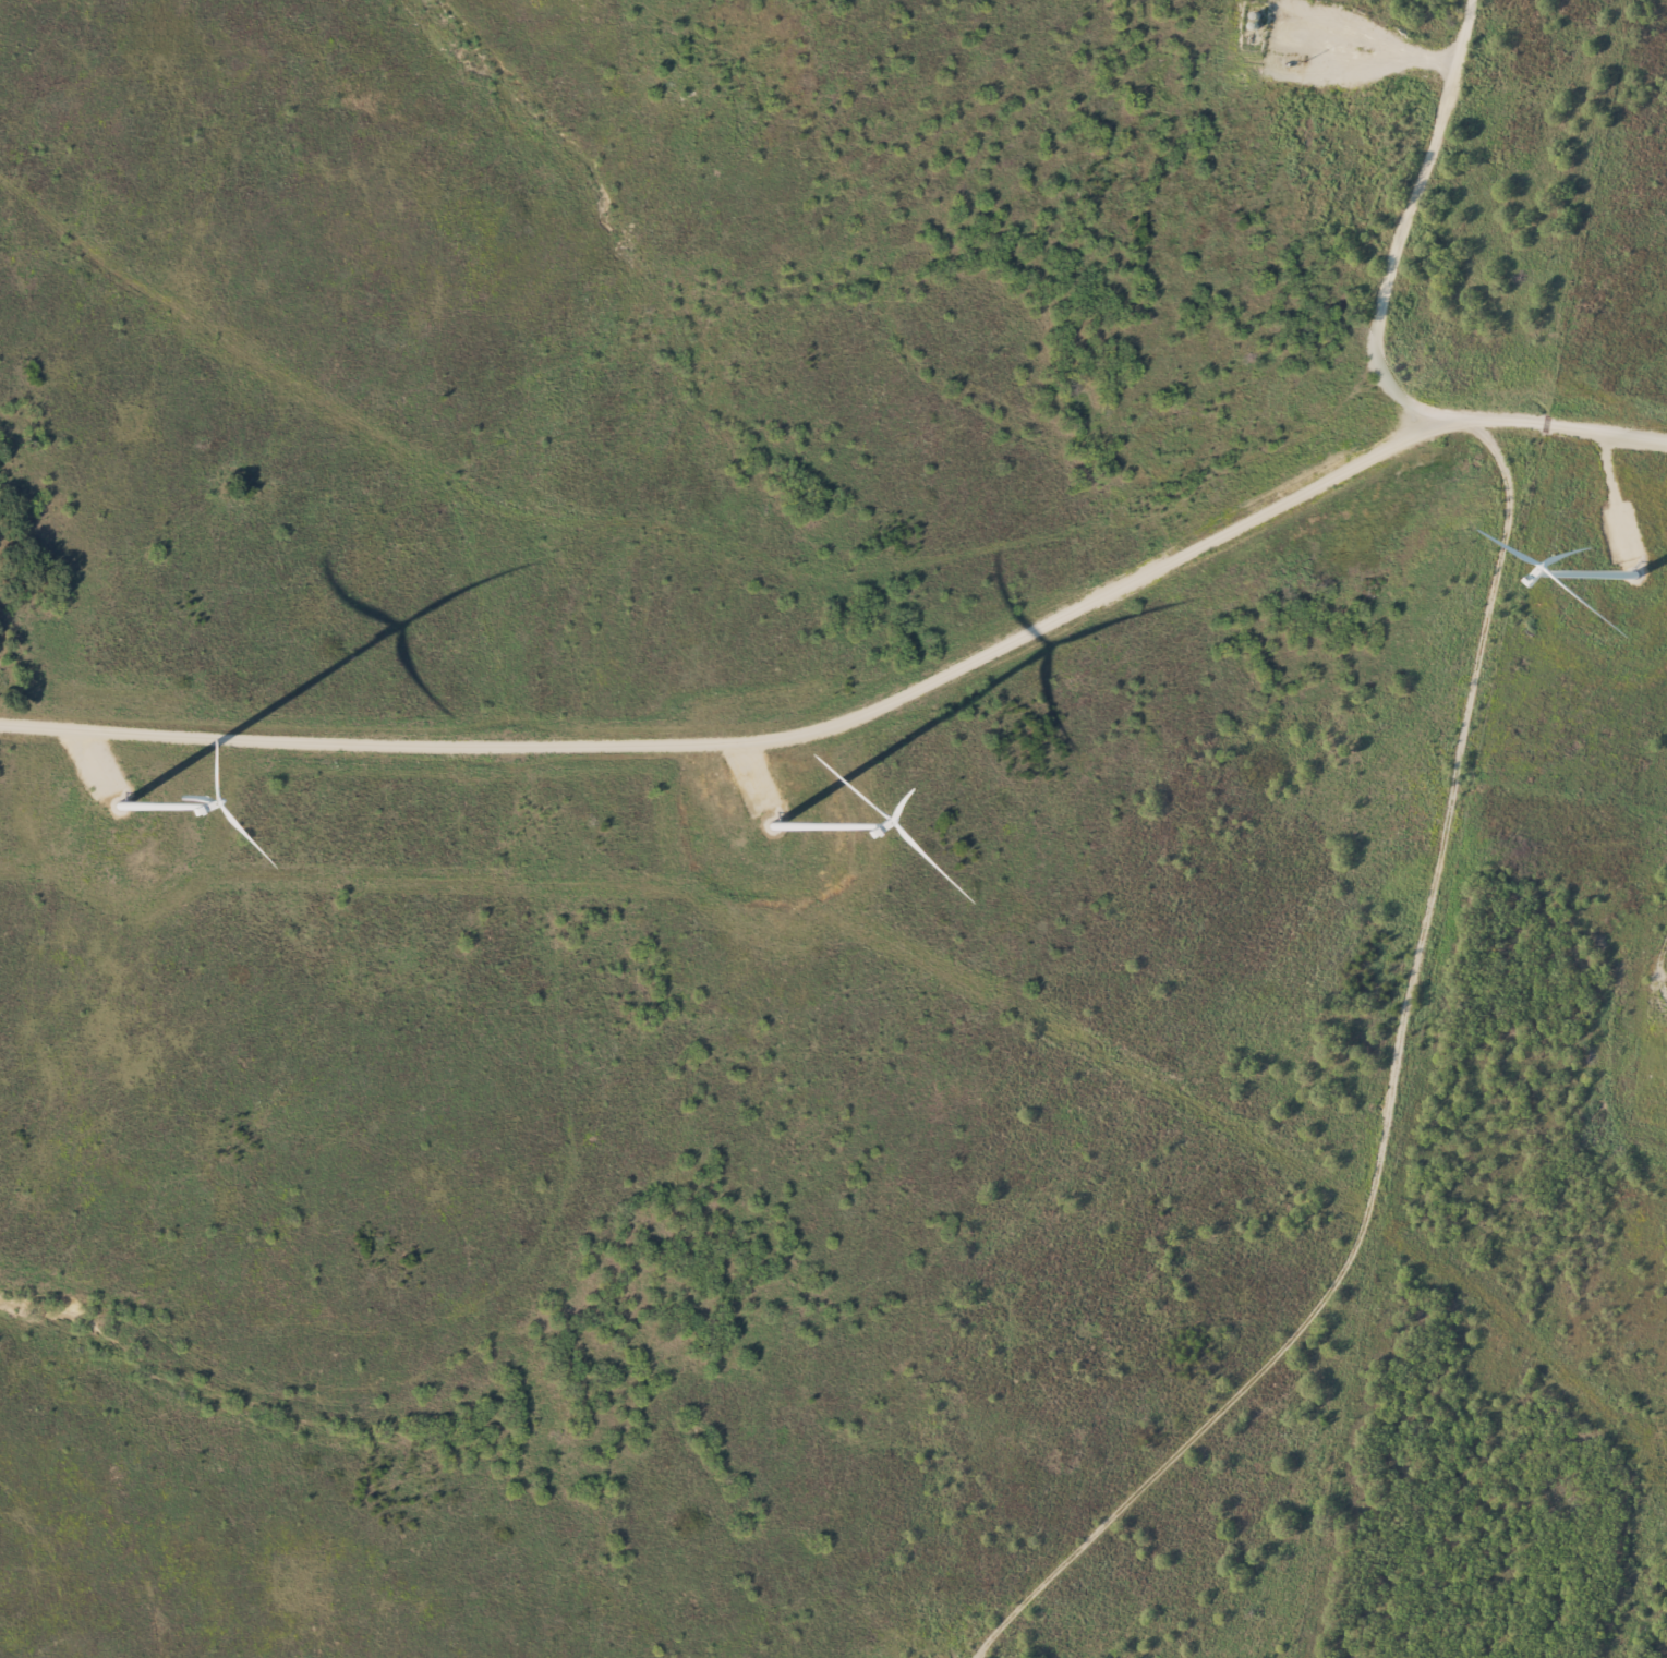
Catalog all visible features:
road: (1403, 234)
road: (1568, 423)
road: (1420, 438)
wind turbine: (1629, 571)
wind turbine: (118, 807)
wind turbine: (771, 825)

